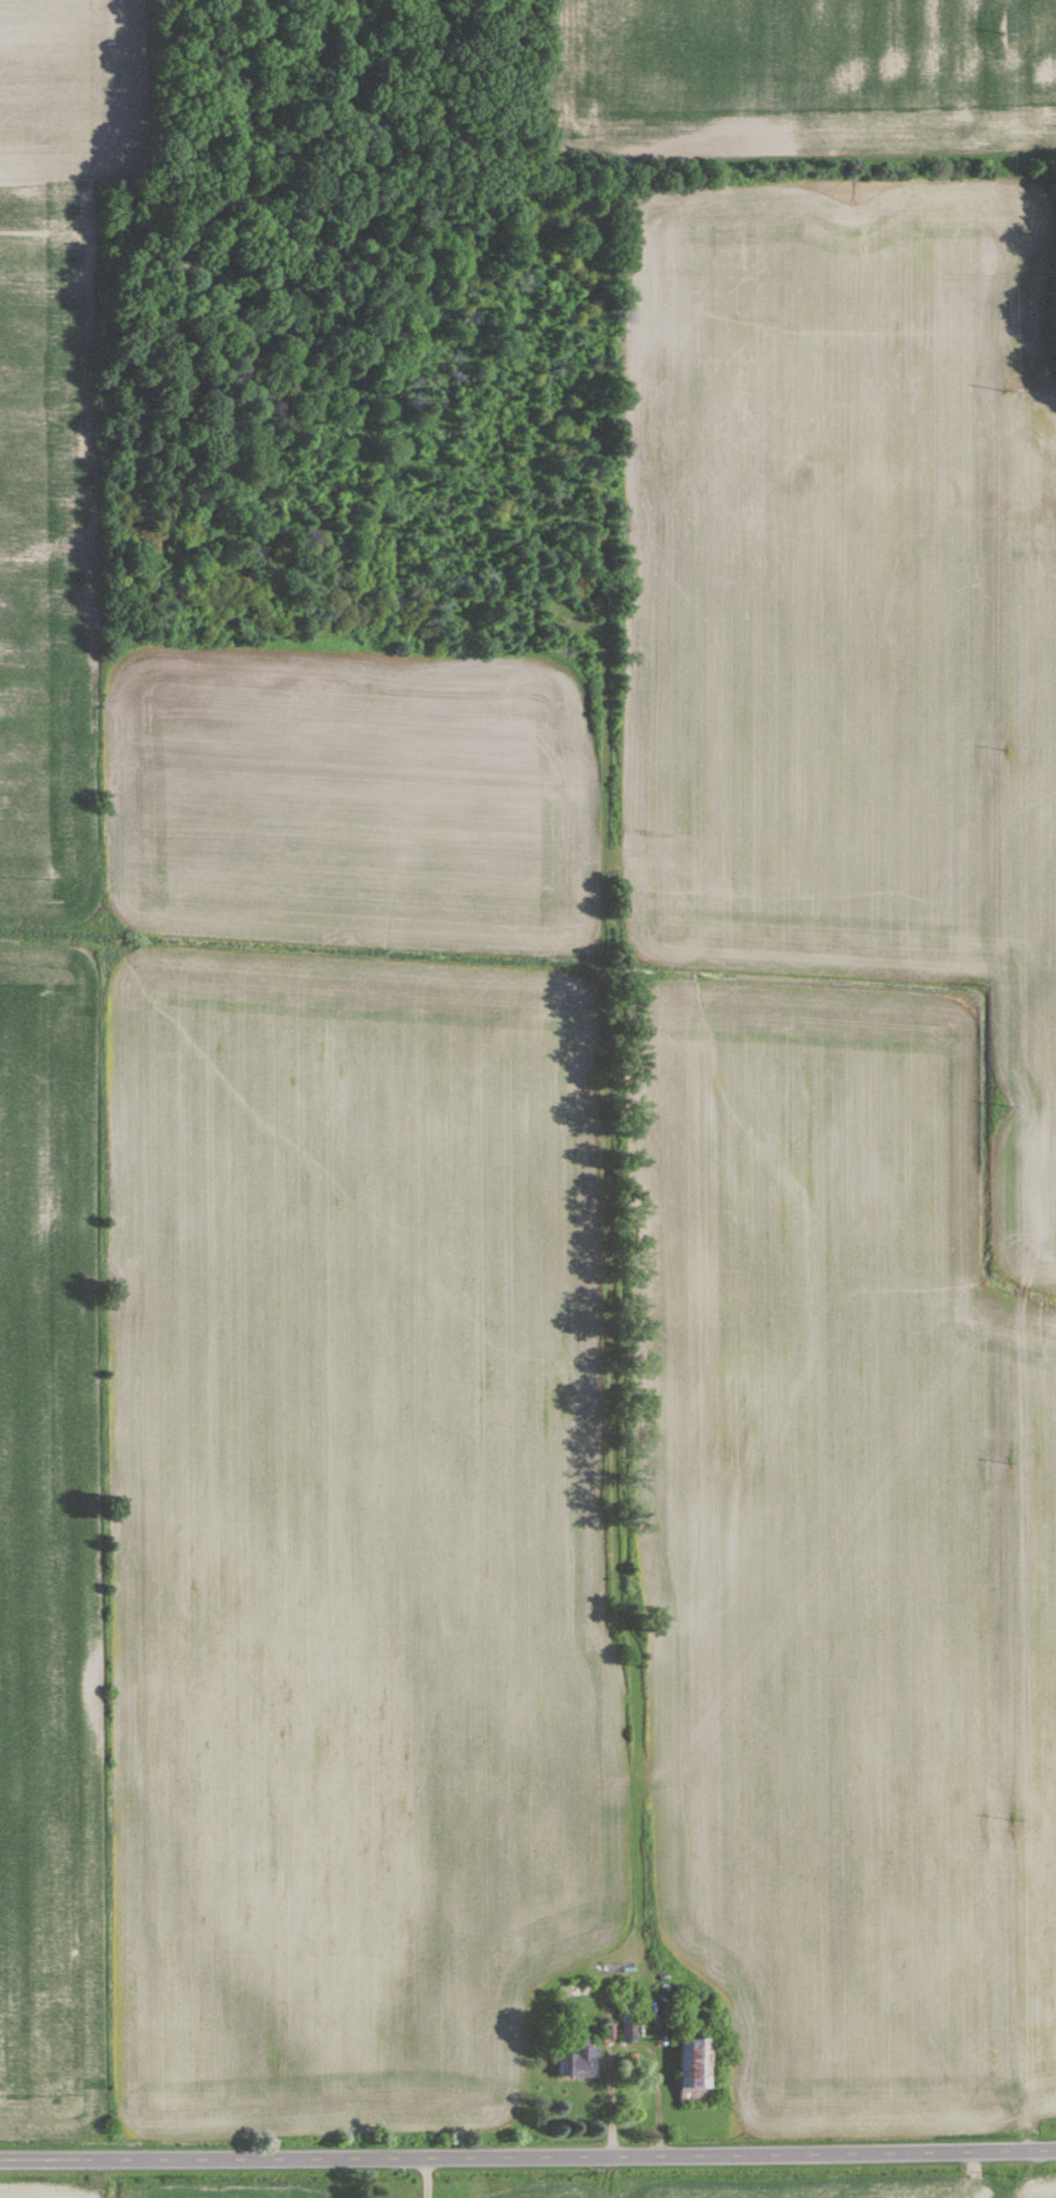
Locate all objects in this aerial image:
building: (629, 2017)
building: (579, 2059)
building: (697, 2060)
road: (528, 2155)

